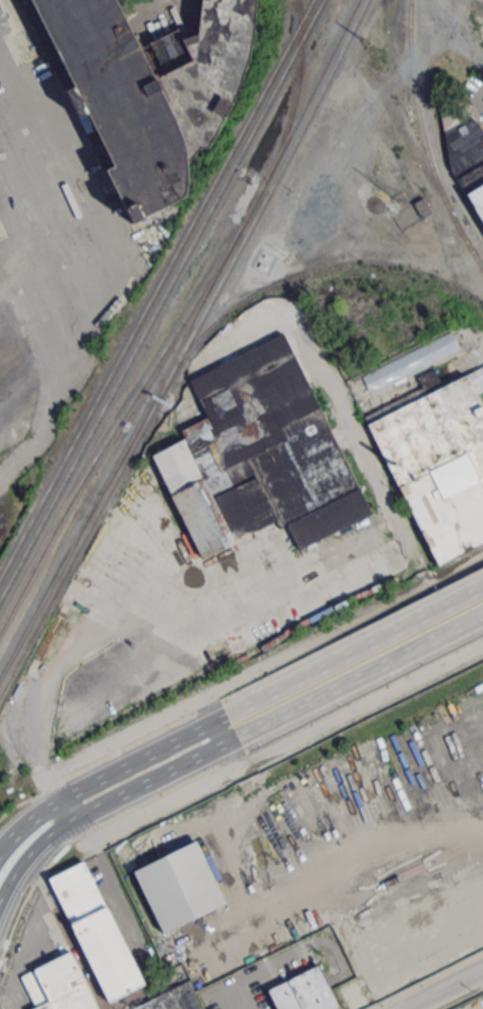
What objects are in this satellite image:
building: (200, 68)
road: (0, 76)
railway: (310, 91)
railway: (295, 94)
railway: (319, 94)
building: (116, 101)
railway: (259, 101)
railway: (268, 103)
railway: (424, 141)
building: (468, 162)
building: (420, 207)
railway: (439, 283)
railway: (217, 290)
railway: (256, 292)
road: (77, 315)
railway: (101, 391)
railway: (124, 402)
railway: (105, 404)
road: (358, 449)
building: (259, 454)
building: (437, 460)
railway: (82, 520)
railway: (81, 542)
road: (173, 612)
road: (351, 636)
road: (254, 672)
road: (363, 692)
road: (207, 707)
road: (208, 710)
road: (236, 712)
road: (220, 733)
road: (224, 744)
road: (130, 746)
road: (273, 750)
road: (230, 756)
road: (231, 759)
road: (54, 786)
road: (156, 798)
road: (20, 804)
road: (68, 810)
road: (82, 836)
building: (178, 886)
road: (27, 897)
road: (112, 901)
building: (94, 931)
building: (56, 985)
road: (441, 987)
building: (311, 991)
building: (283, 997)
building: (173, 999)

